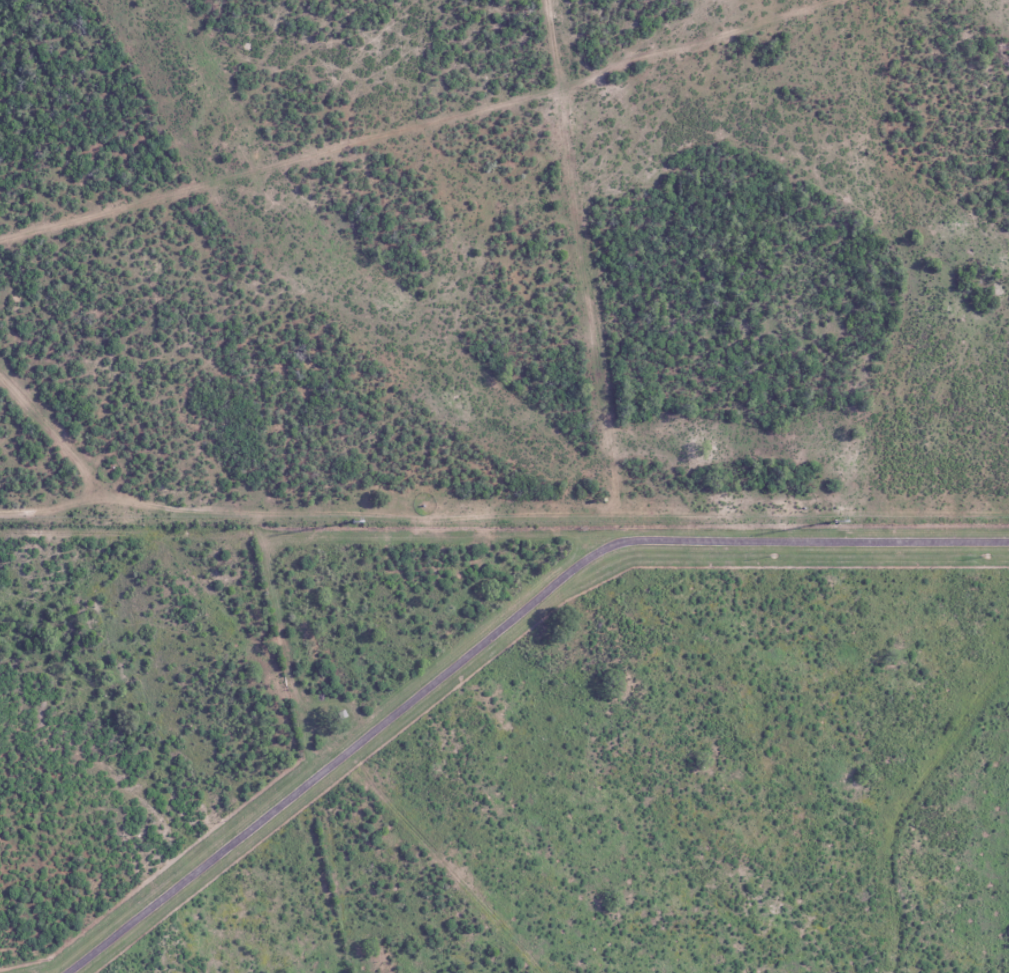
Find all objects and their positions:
power tower: (354, 522)
power tower: (838, 522)
road: (494, 633)

